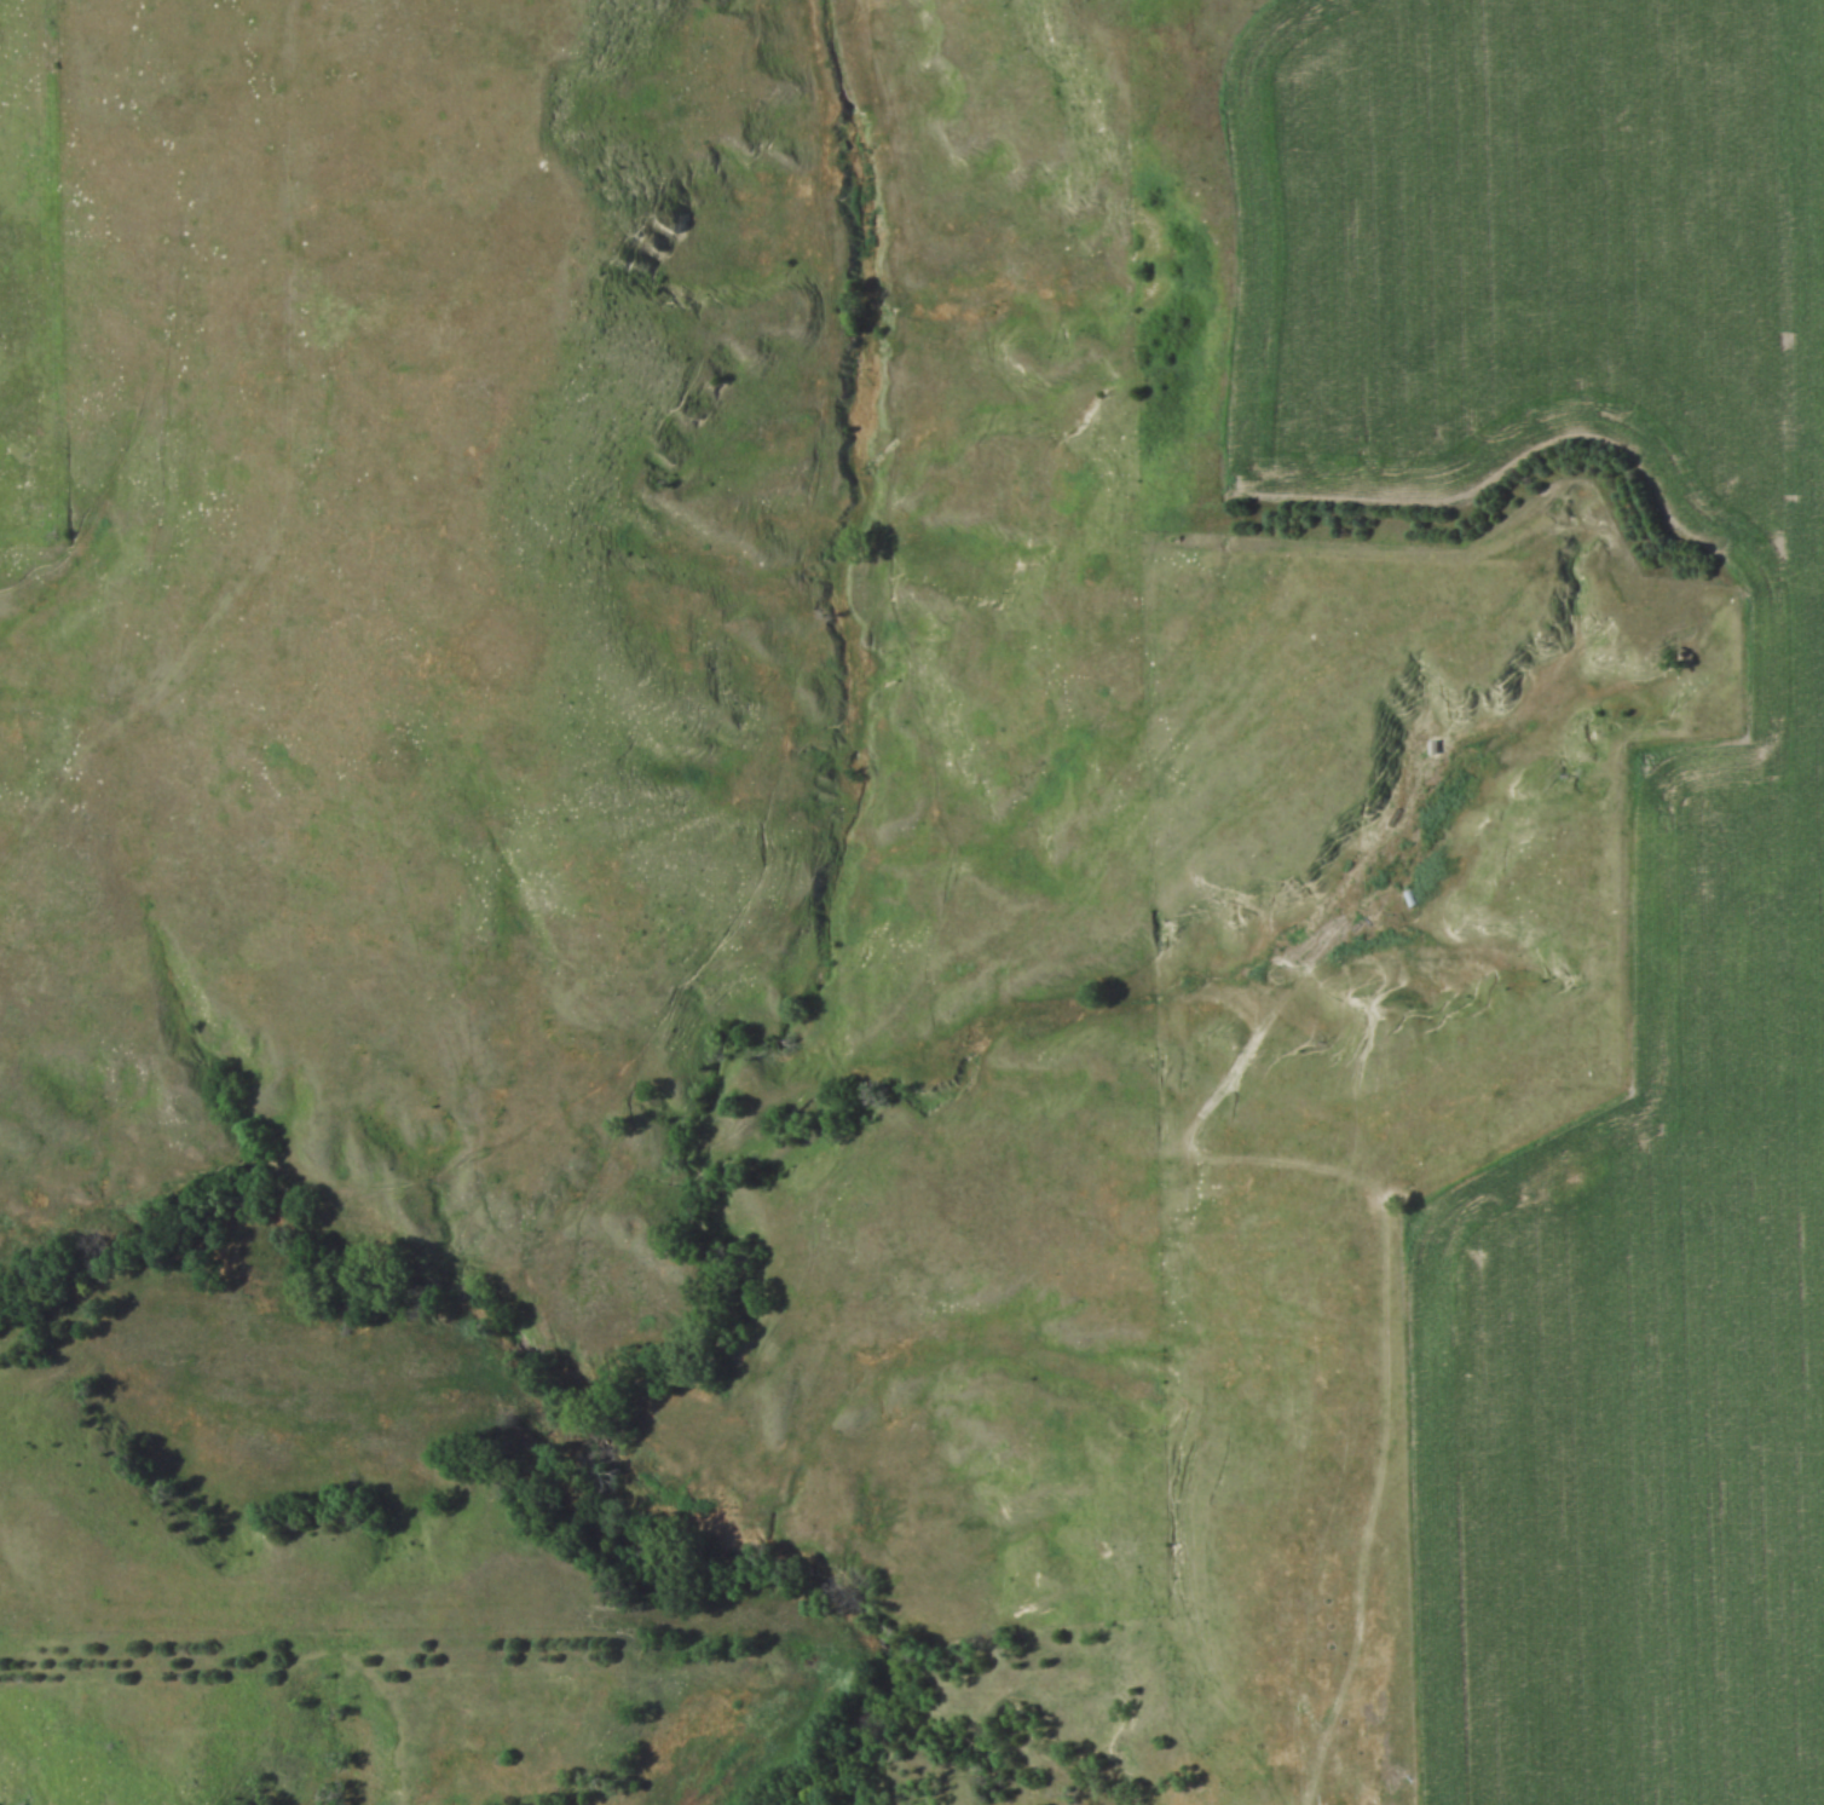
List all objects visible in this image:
crop: (1581, 390)

